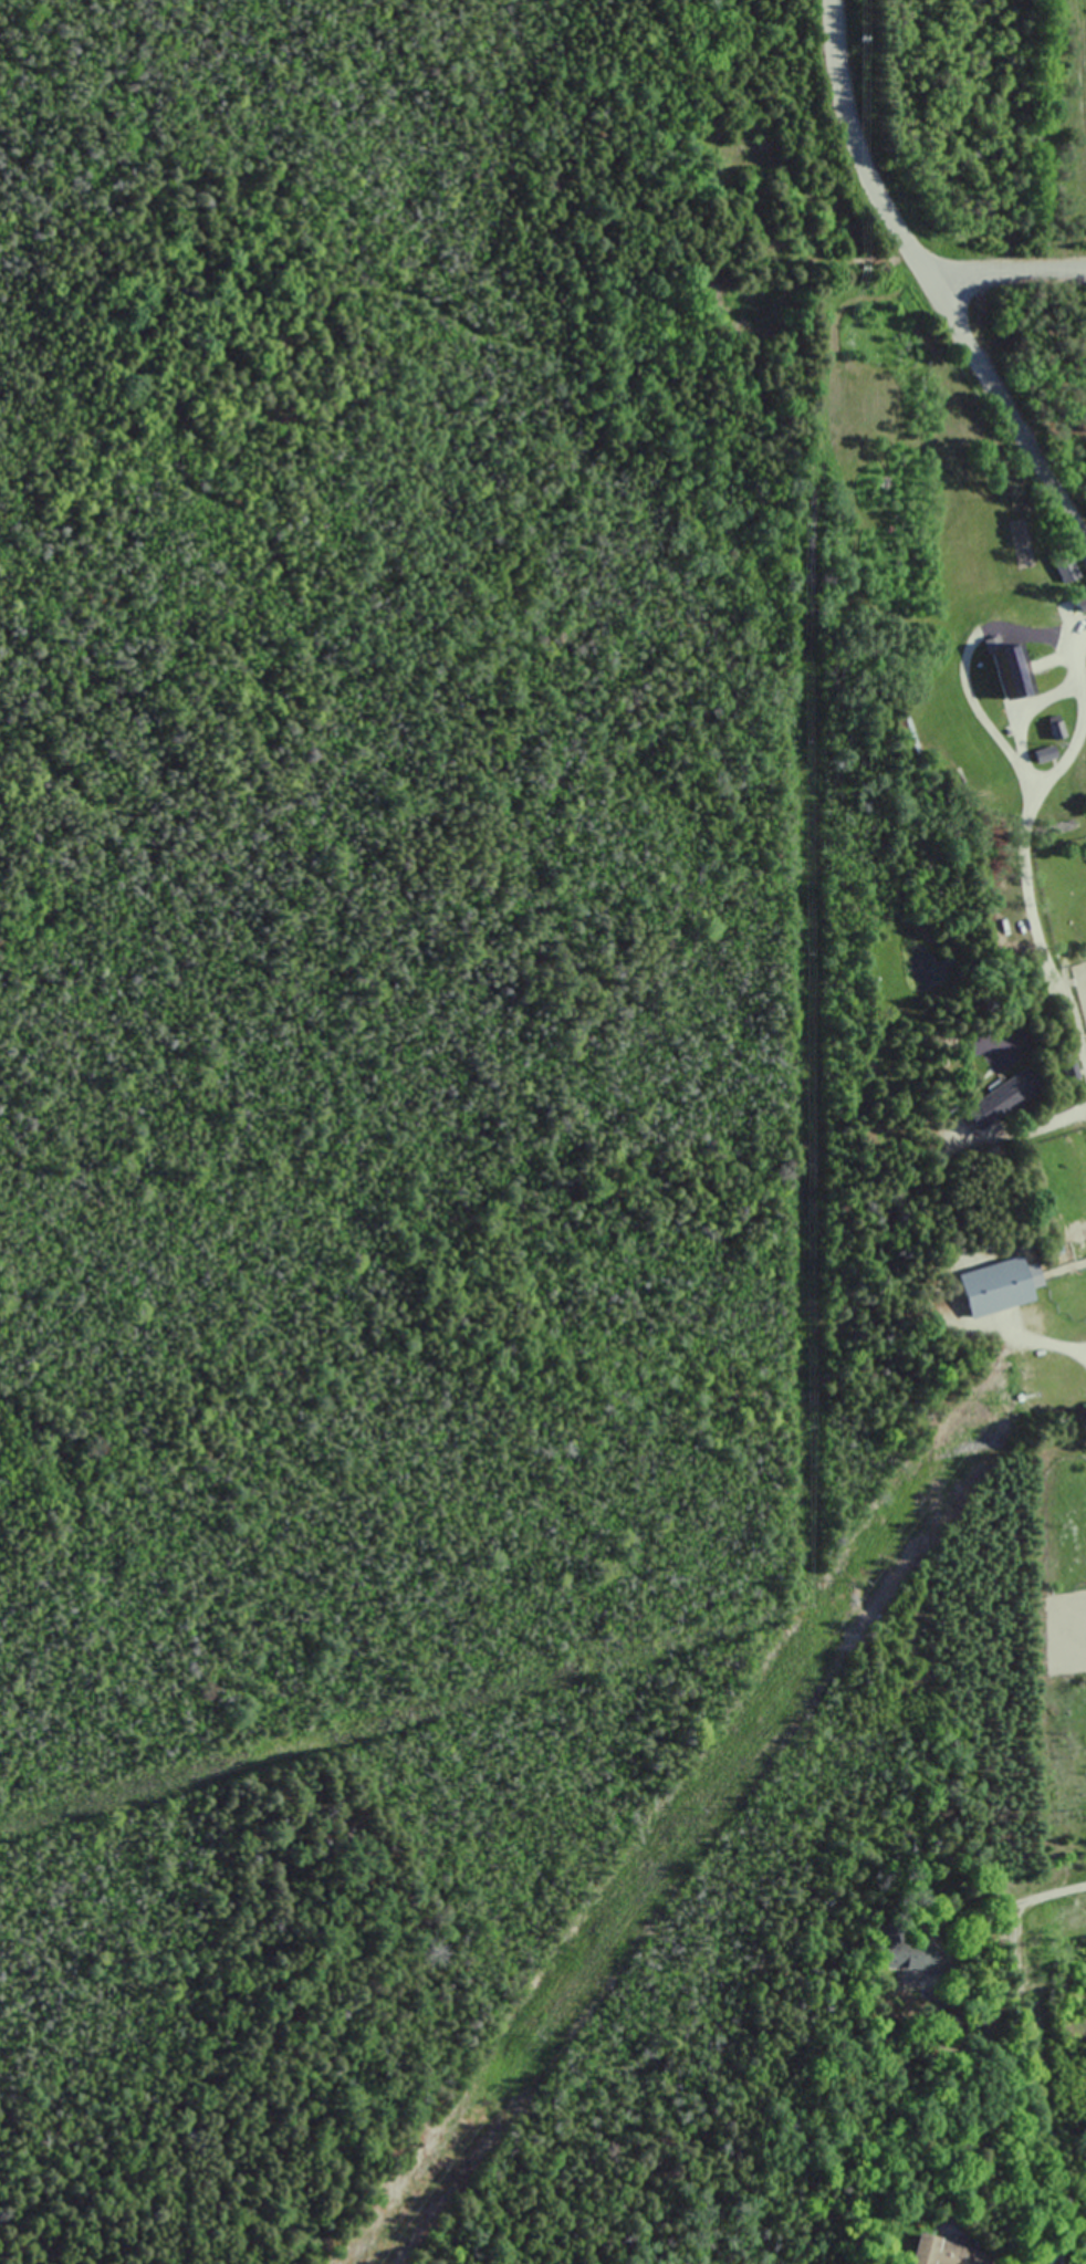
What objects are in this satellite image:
road: (1003, 268)
road: (930, 285)
building: (1064, 567)
building: (1079, 598)
building: (1006, 667)
road: (1021, 719)
building: (1043, 753)
road: (1022, 835)
building: (1000, 1097)
road: (1048, 1120)
building: (992, 1287)
power tower: (1016, 1371)
power tower: (859, 1582)
power tower: (695, 1812)
road: (1052, 1893)
building: (908, 1952)
power tower: (530, 2041)
building: (943, 2252)

